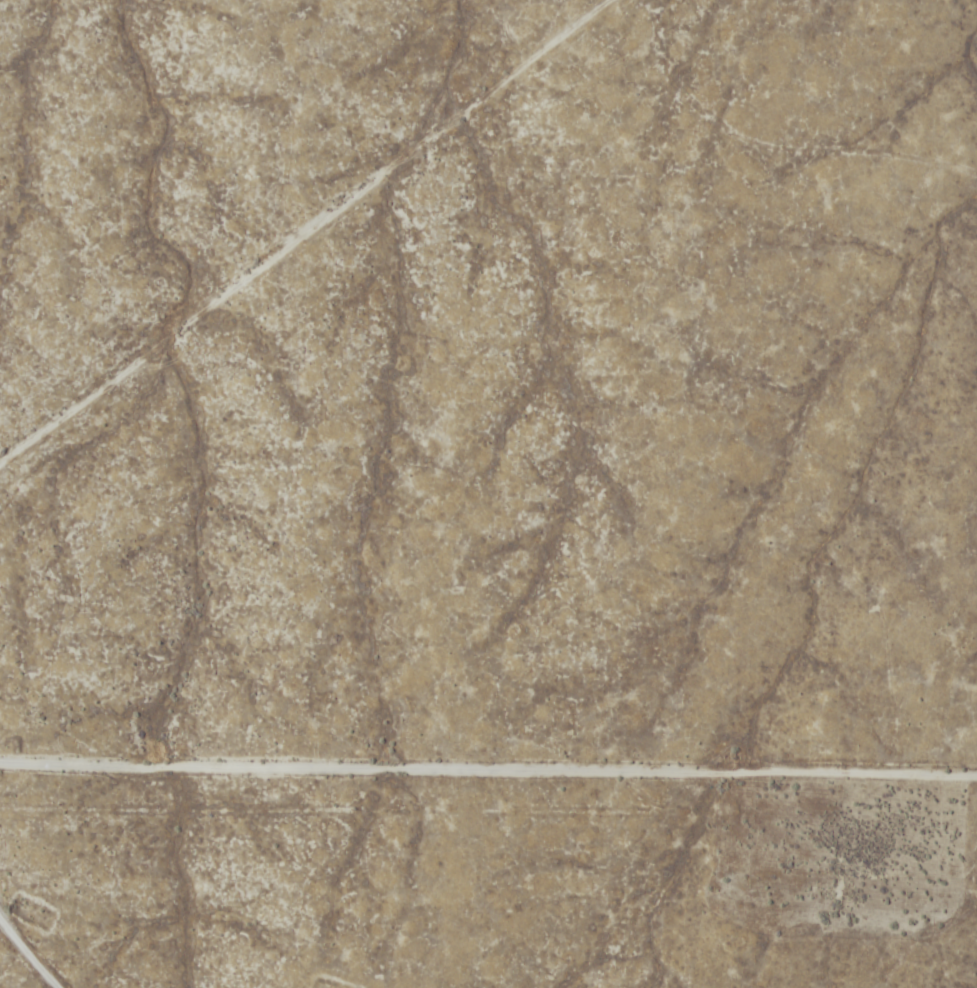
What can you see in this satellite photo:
road: (312, 234)
road: (488, 811)

